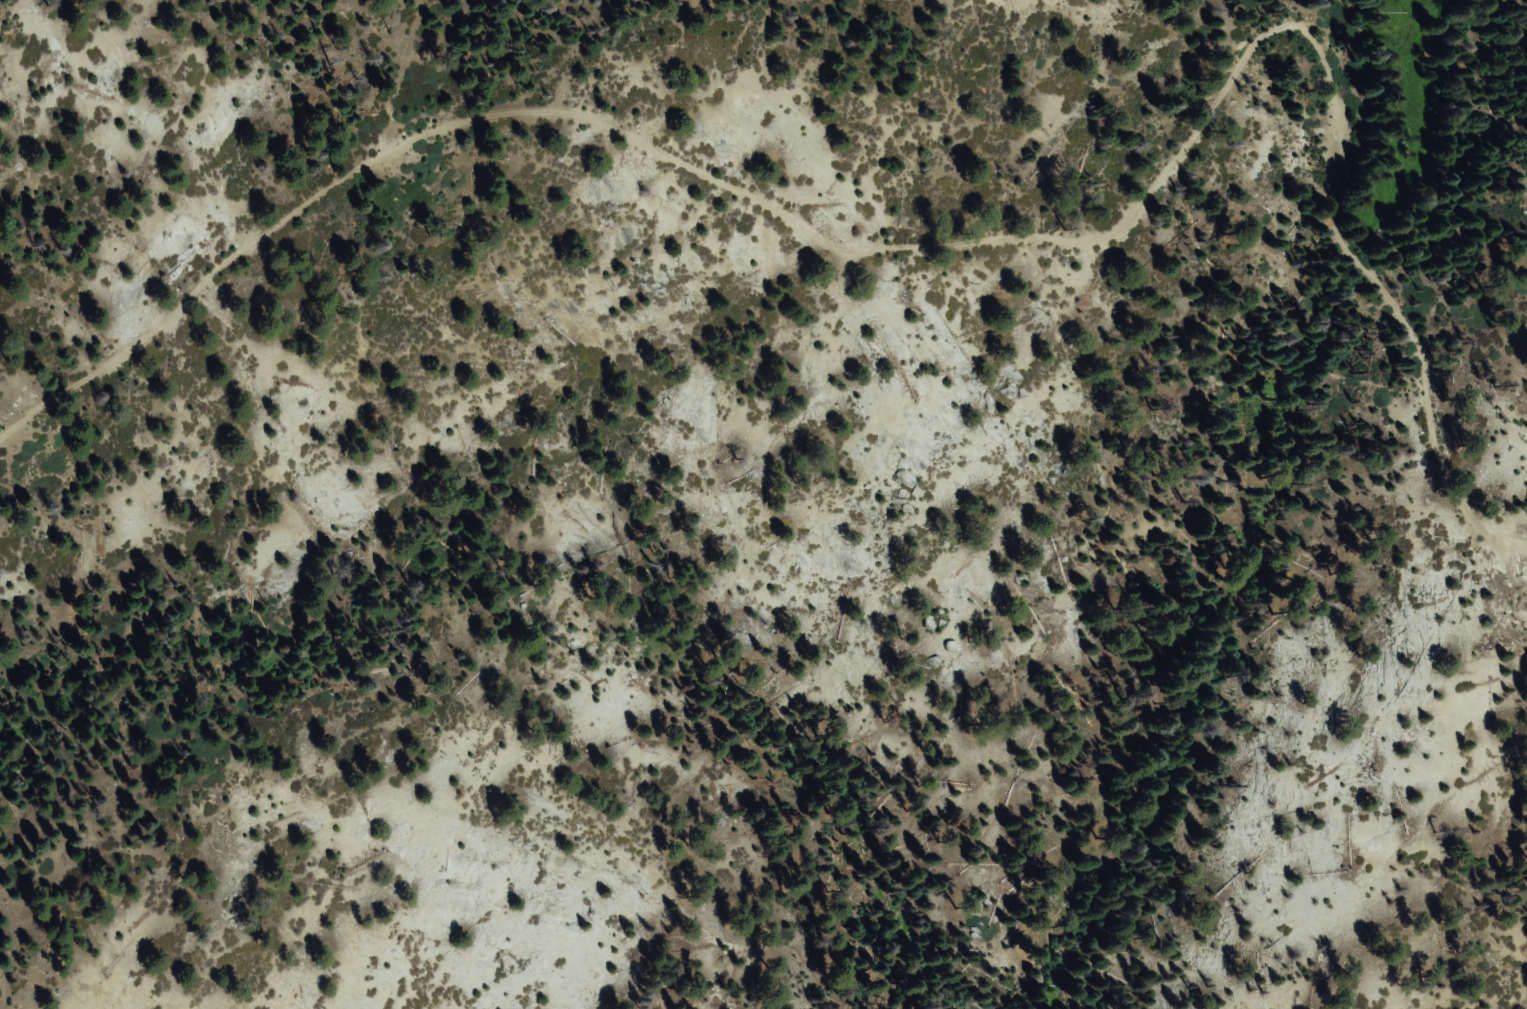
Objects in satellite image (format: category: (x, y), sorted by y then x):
road: (936, 247)

